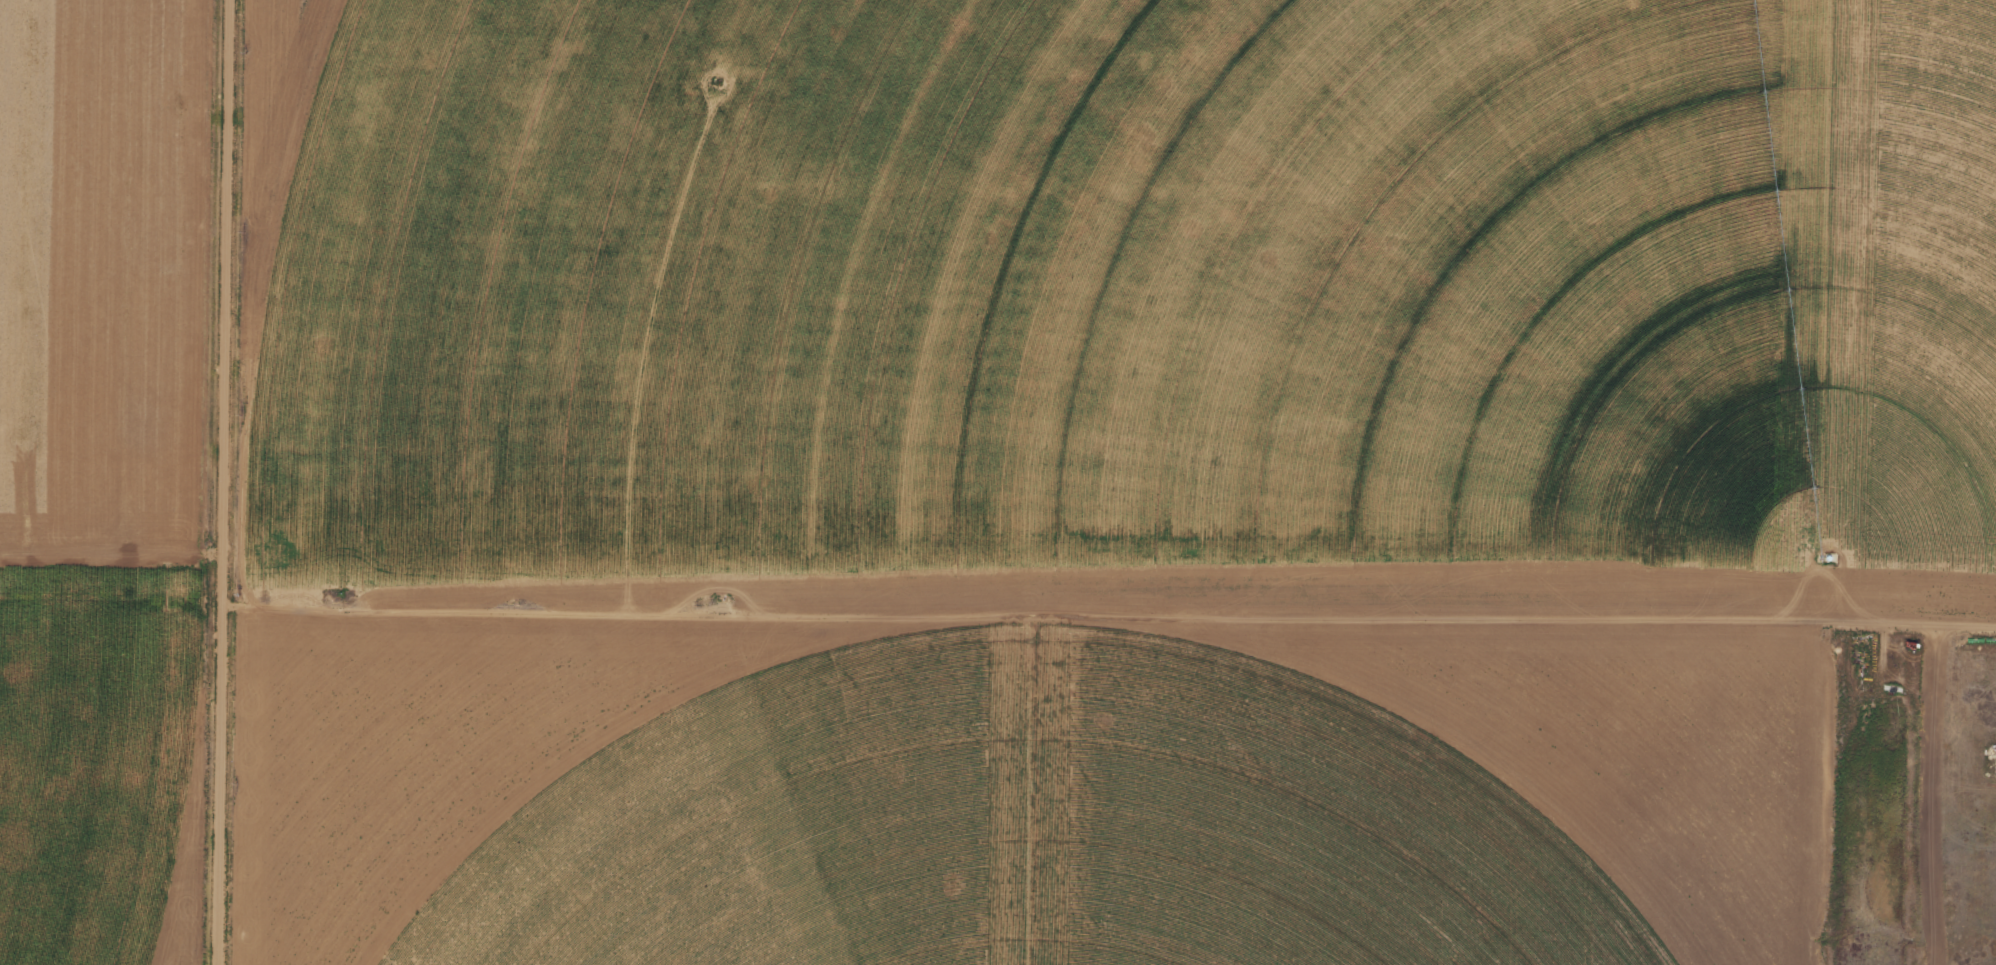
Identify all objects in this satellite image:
road: (710, 306)
road: (225, 482)
road: (1109, 620)
road: (1811, 799)
road: (110, 828)

